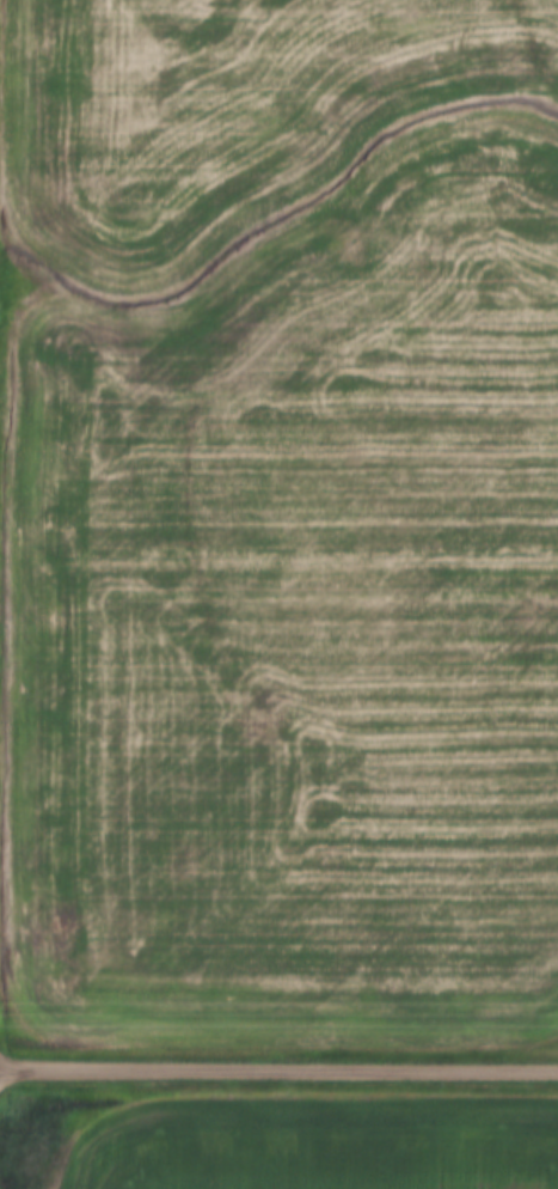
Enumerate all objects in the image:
road: (278, 1068)

